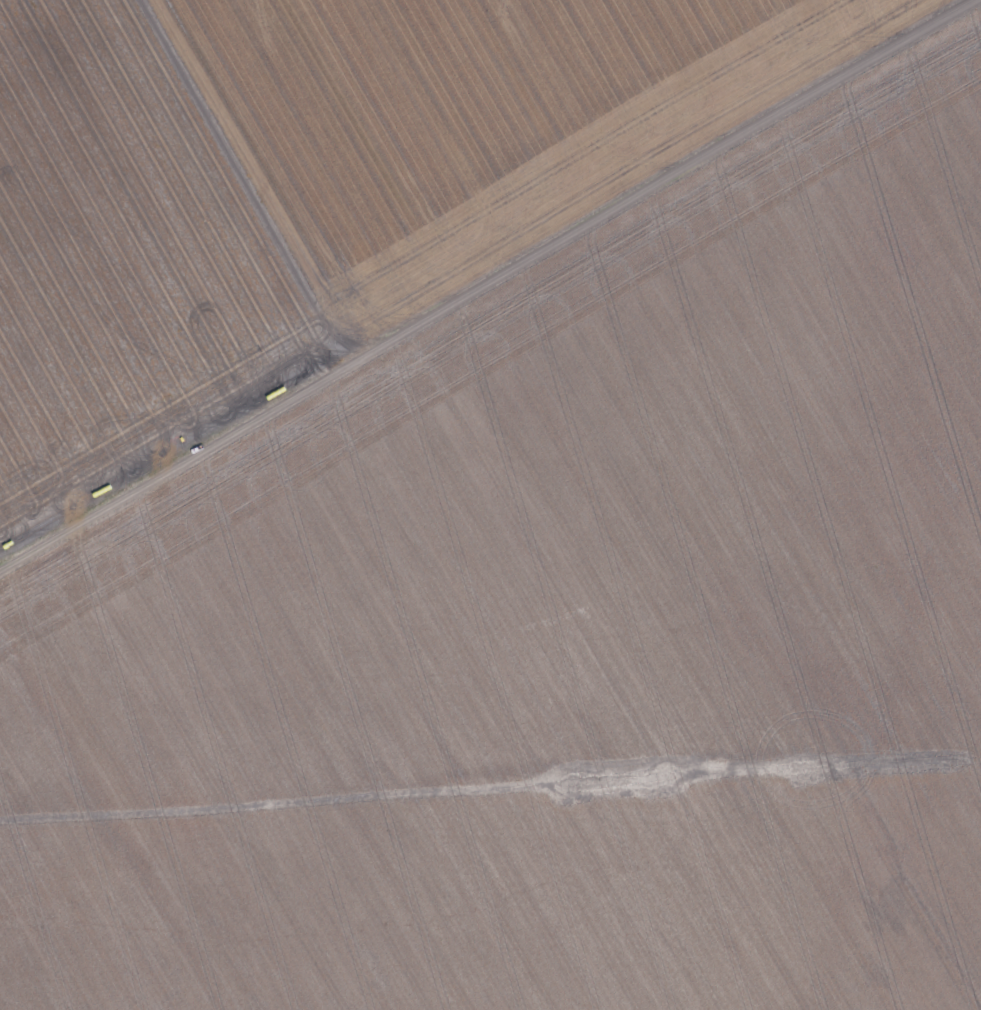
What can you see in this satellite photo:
road: (477, 279)

